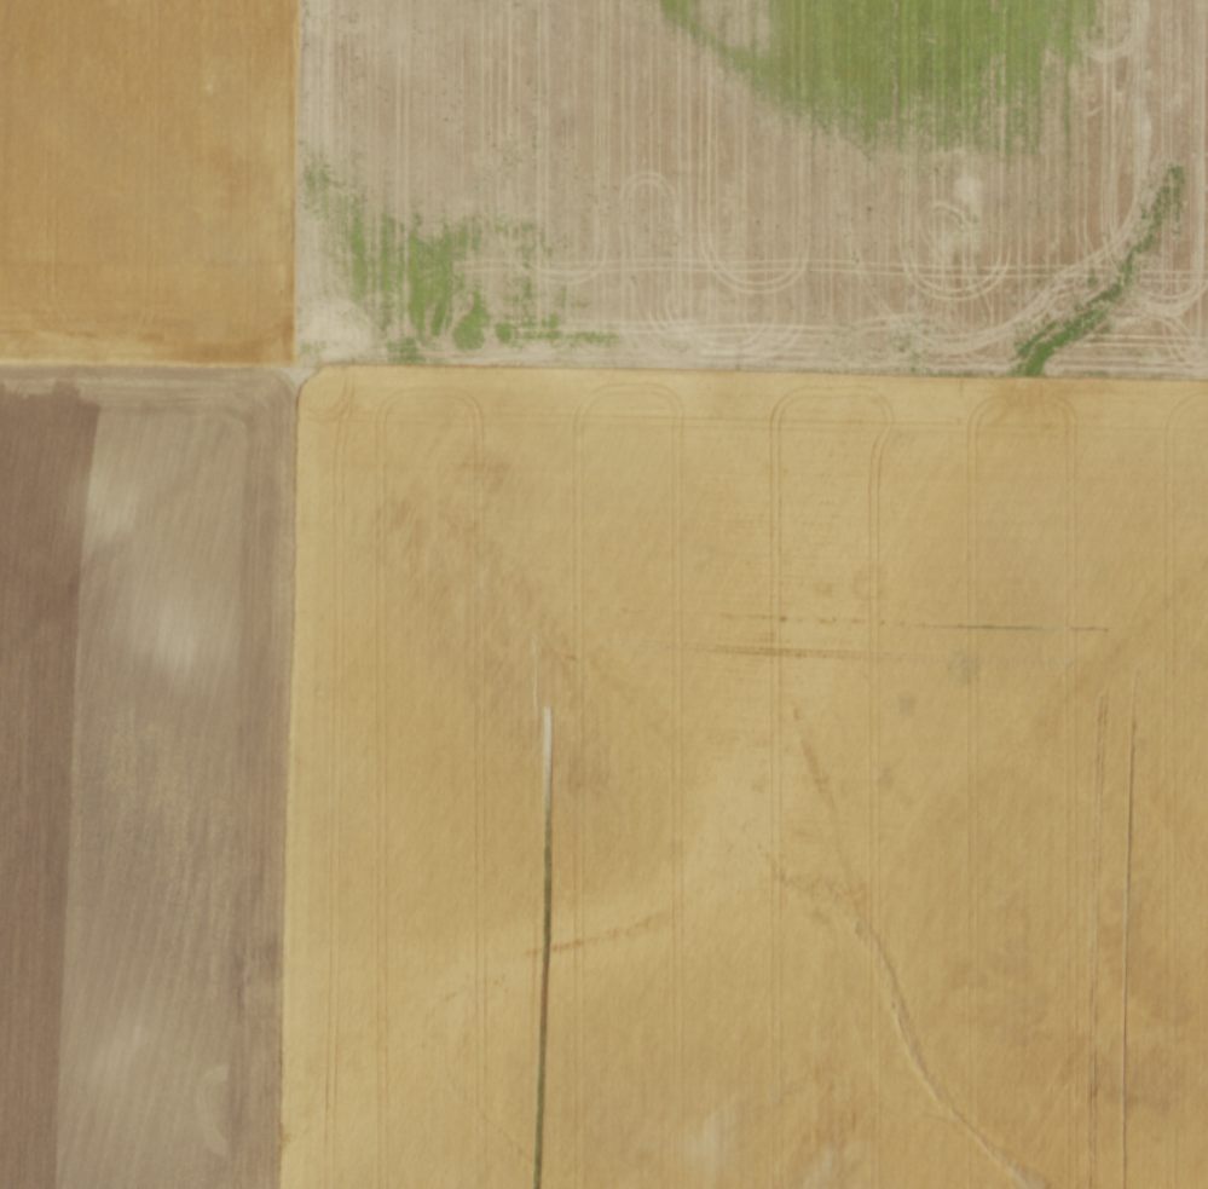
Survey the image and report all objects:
crop: (603, 594)

